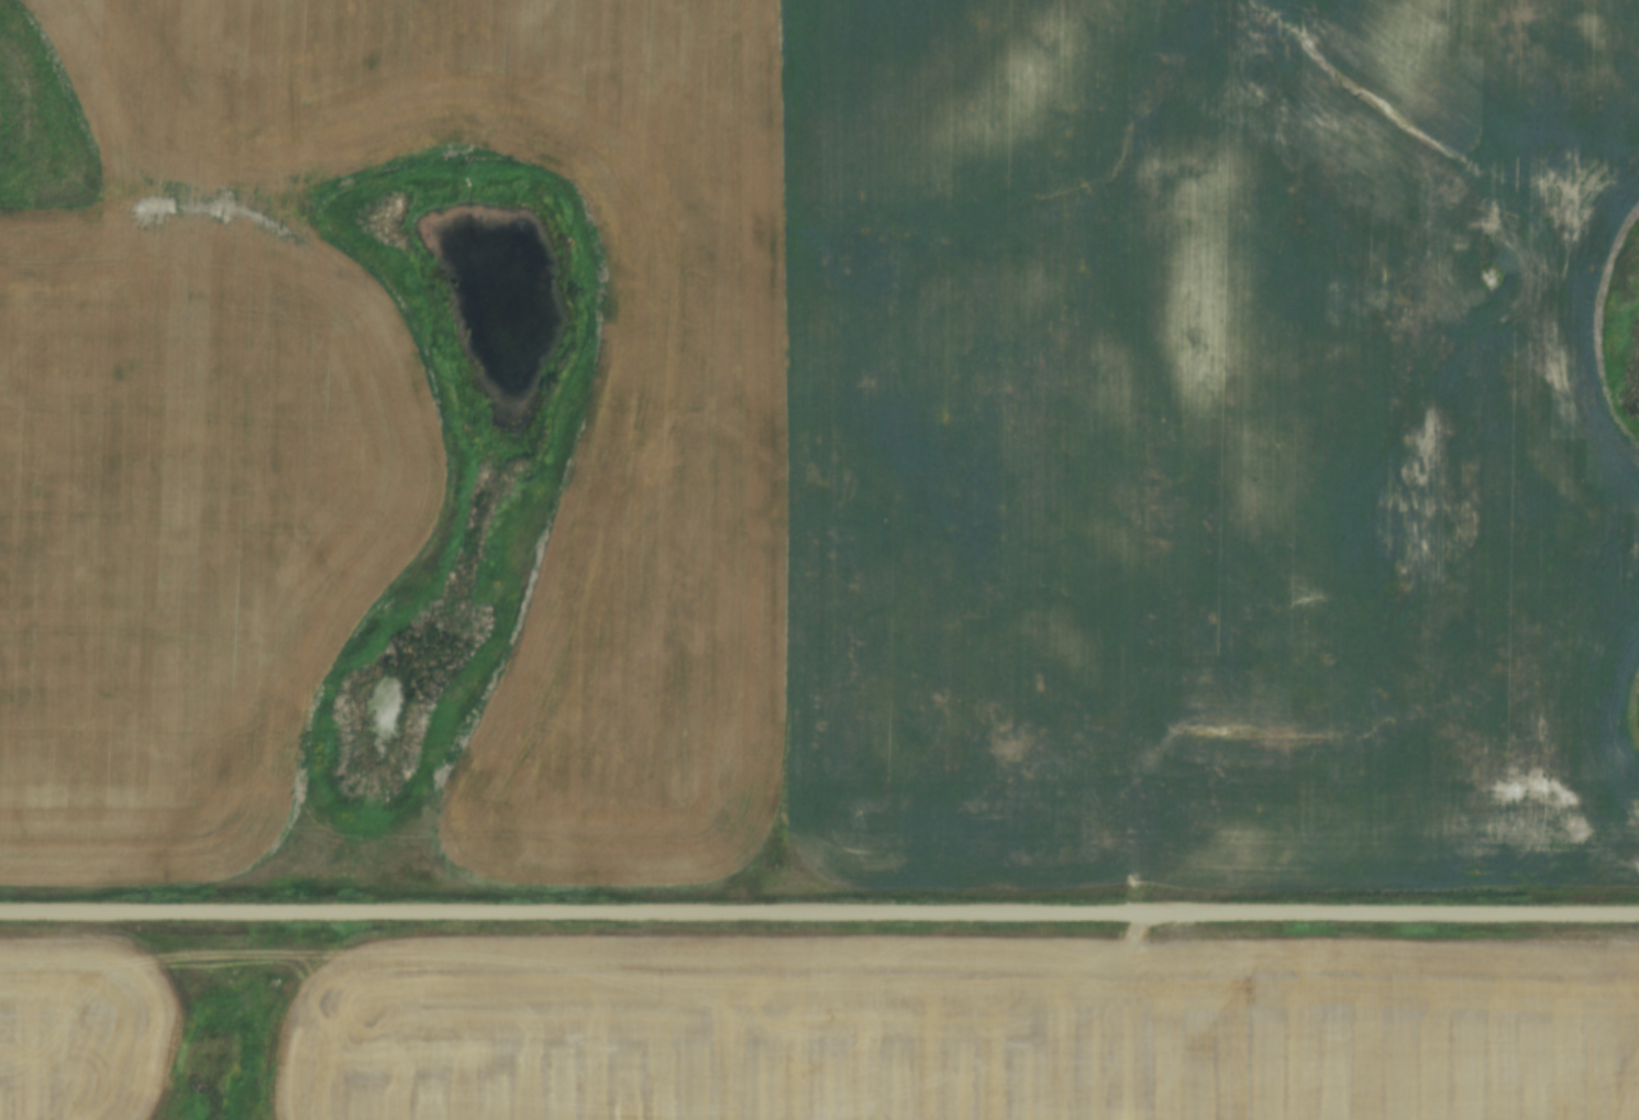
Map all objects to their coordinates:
road: (819, 914)

